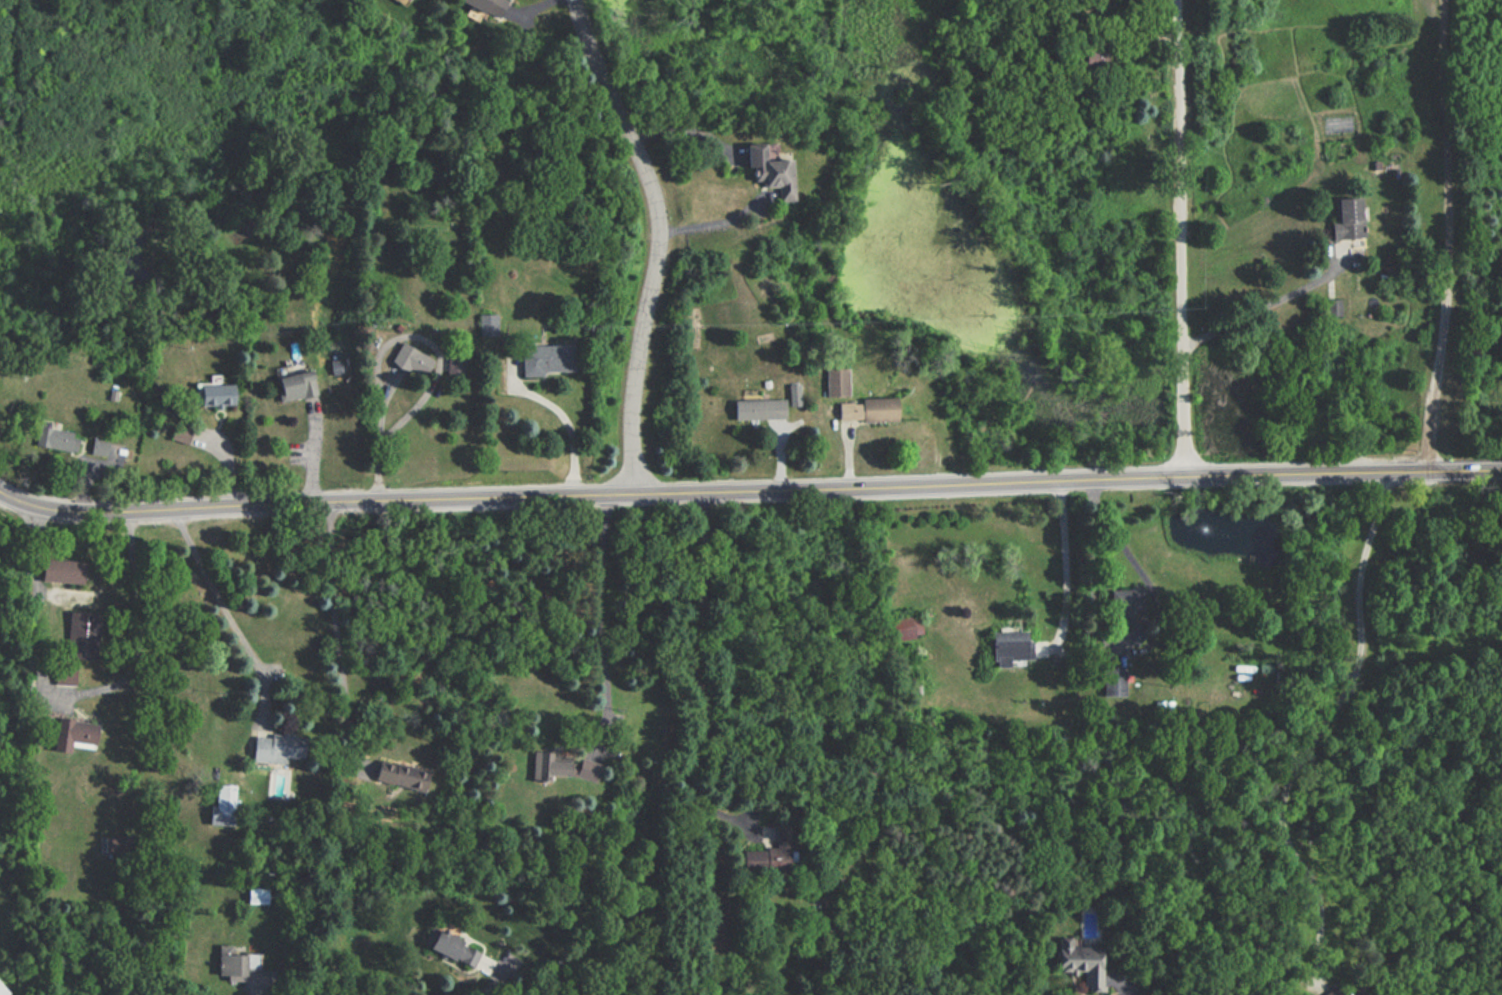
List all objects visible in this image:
building: (399, 1)
building: (483, 6)
building: (1088, 59)
building: (1344, 218)
road: (712, 225)
road: (1179, 236)
road: (1448, 236)
road: (660, 239)
building: (1332, 307)
road: (1250, 313)
building: (489, 321)
road: (438, 356)
building: (542, 357)
building: (457, 359)
building: (337, 362)
building: (404, 365)
building: (833, 382)
building: (292, 386)
building: (211, 393)
building: (792, 395)
building: (756, 408)
building: (865, 410)
road: (560, 416)
building: (183, 430)
building: (55, 439)
building: (100, 444)
road: (314, 448)
road: (749, 489)
road: (1115, 535)
road: (1064, 556)
building: (63, 567)
road: (223, 606)
road: (36, 609)
road: (601, 622)
road: (143, 630)
building: (83, 632)
road: (337, 633)
building: (1006, 647)
building: (65, 672)
road: (690, 673)
road: (1320, 727)
building: (70, 734)
building: (275, 748)
building: (544, 768)
building: (224, 804)
building: (119, 841)
building: (258, 891)
building: (0, 925)
building: (1081, 955)
building: (231, 966)
road: (262, 988)
building: (2, 991)

